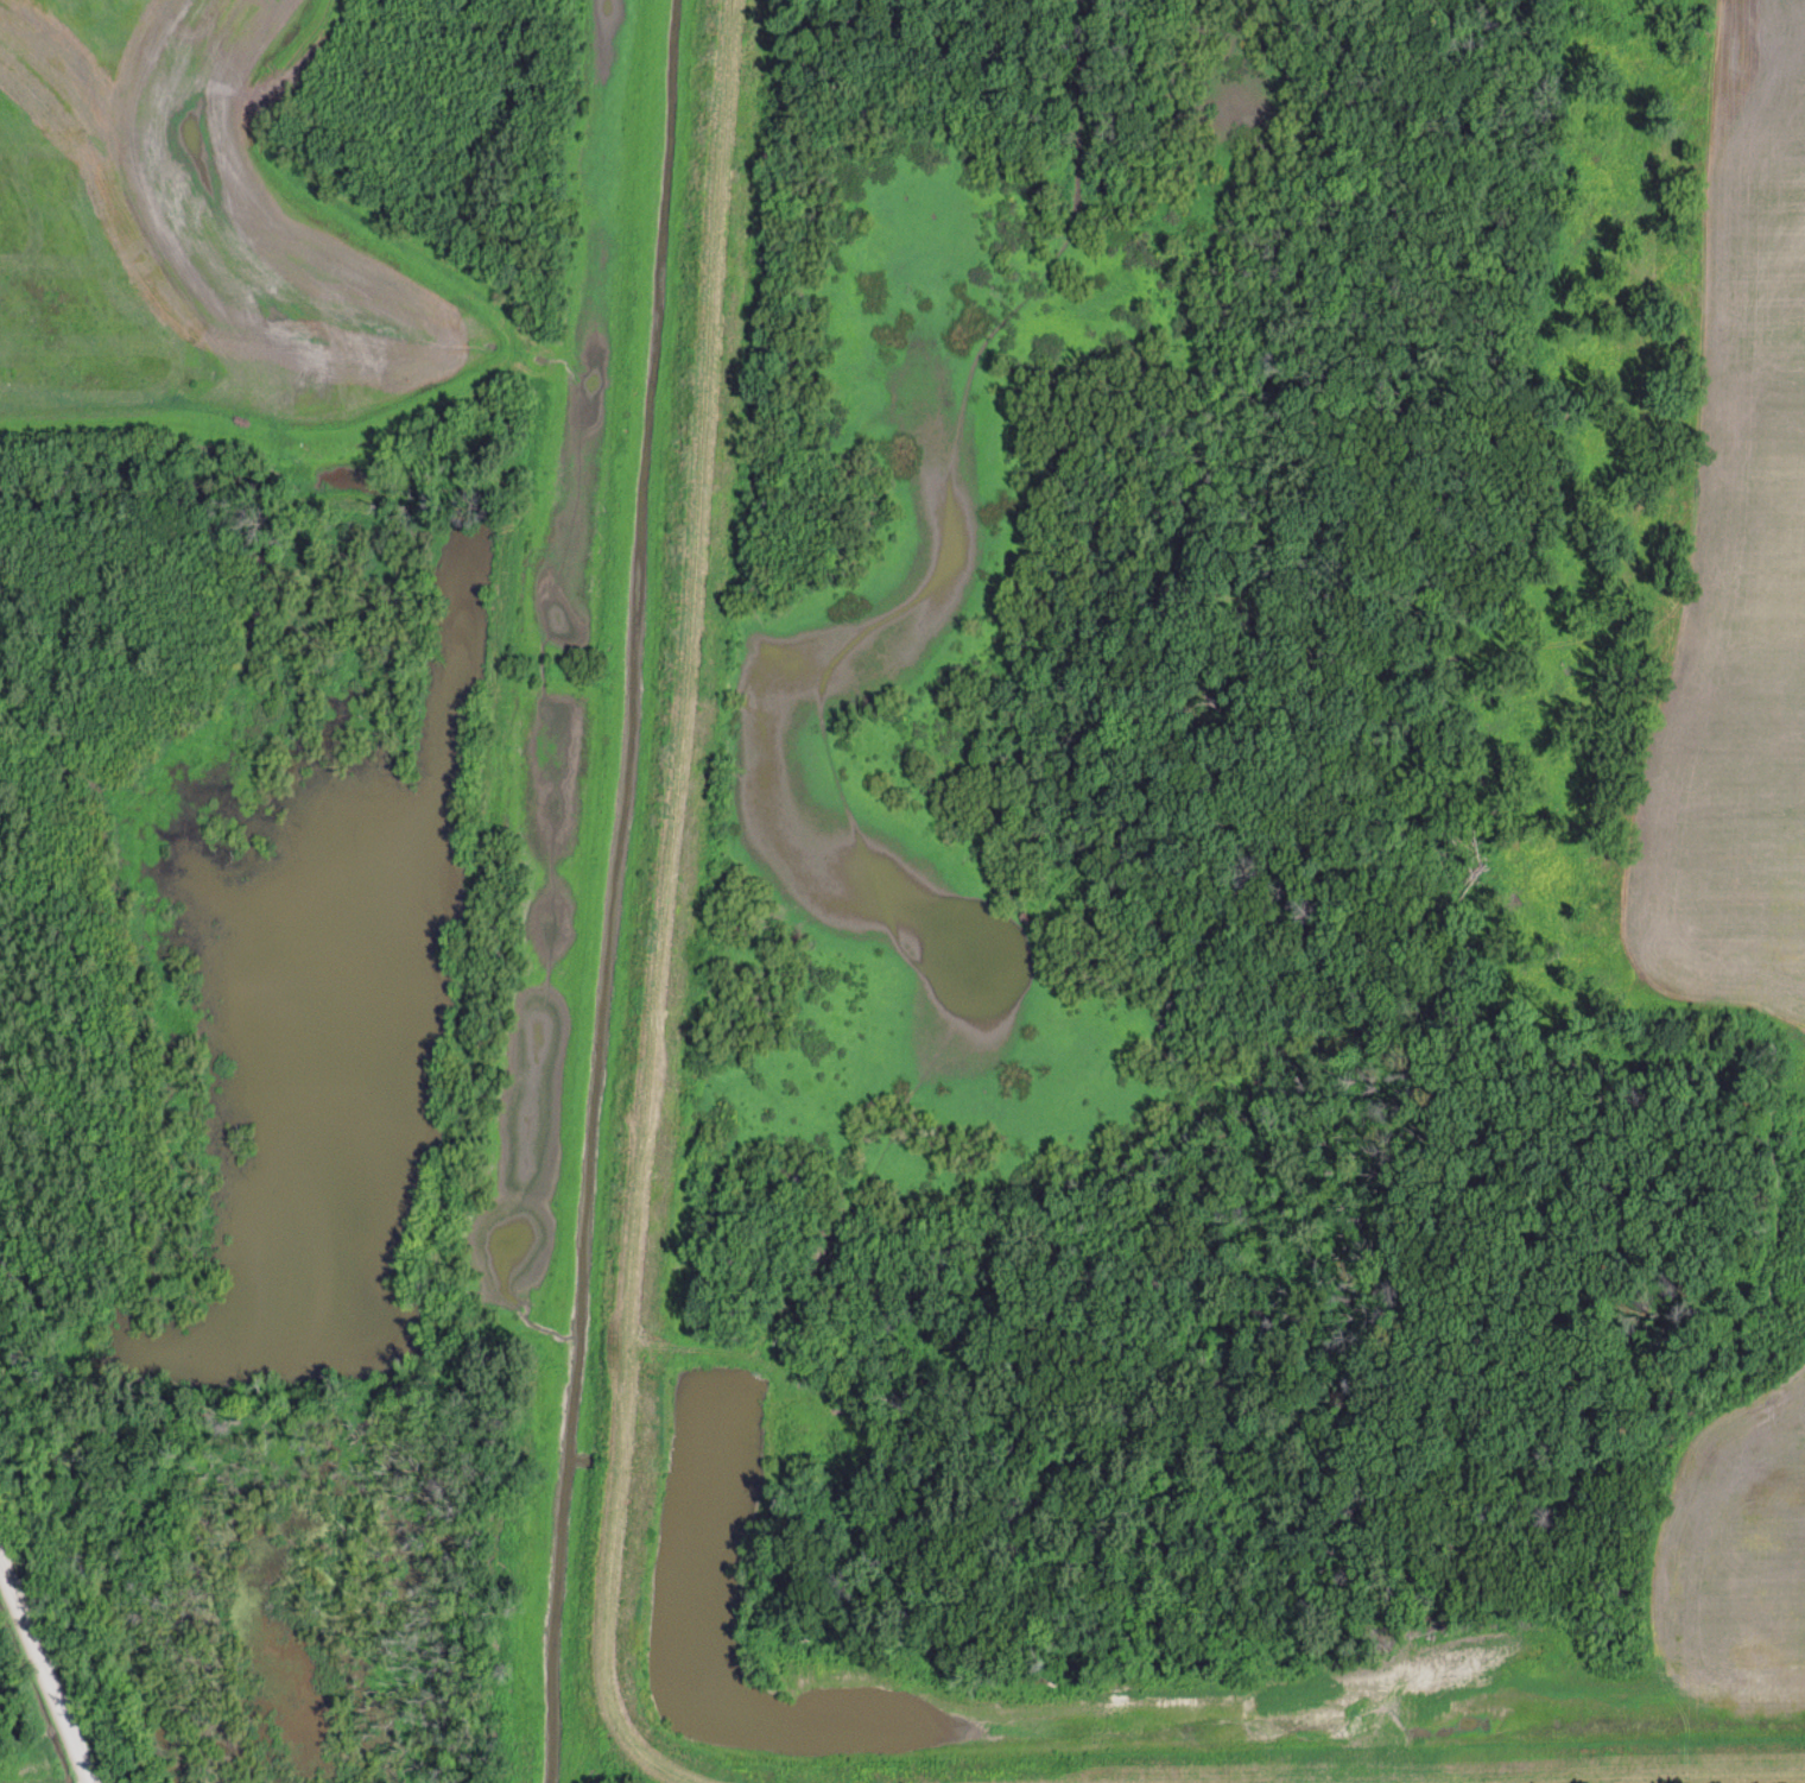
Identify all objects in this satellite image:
road: (46, 1670)

